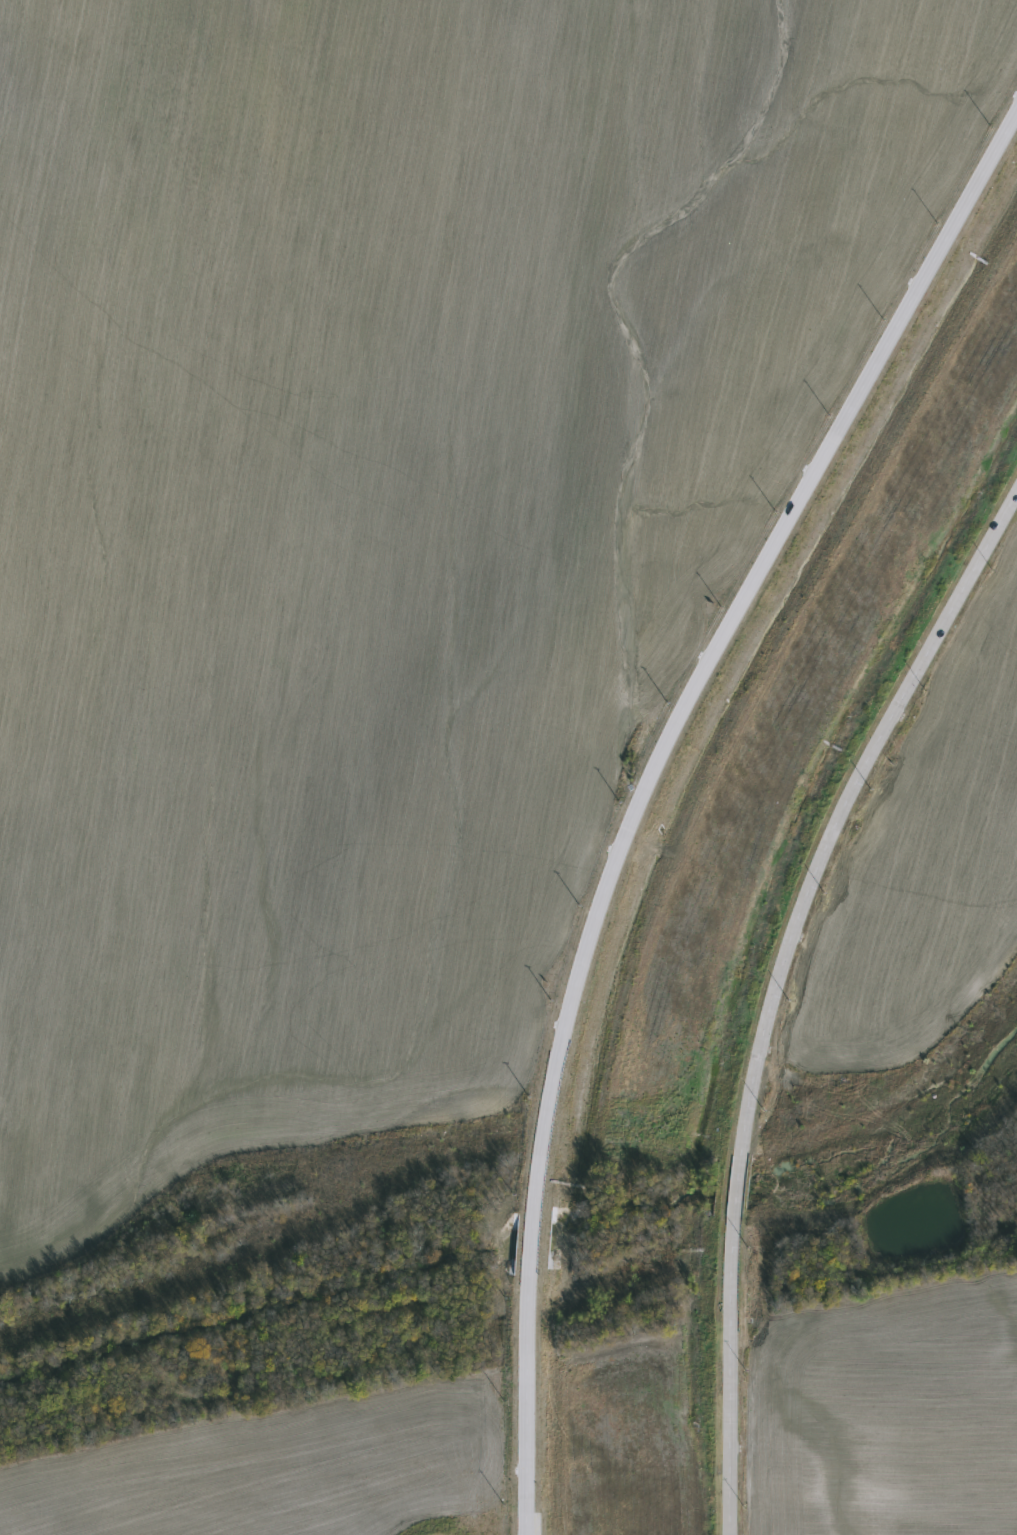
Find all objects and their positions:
crop: (367, 522)
road: (646, 783)
road: (774, 987)

